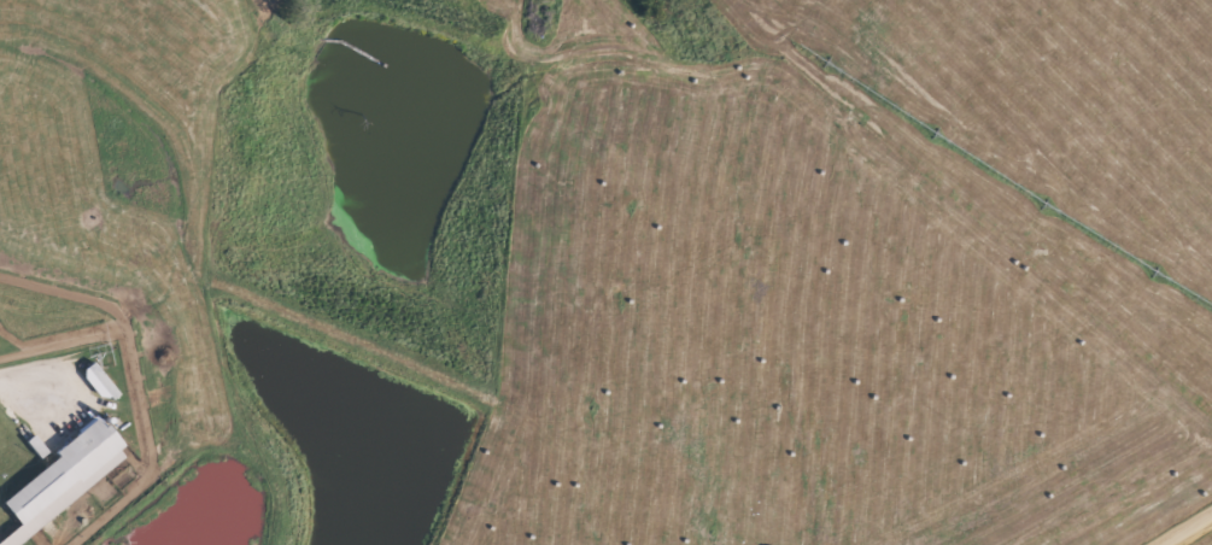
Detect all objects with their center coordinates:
building: (60, 480)

